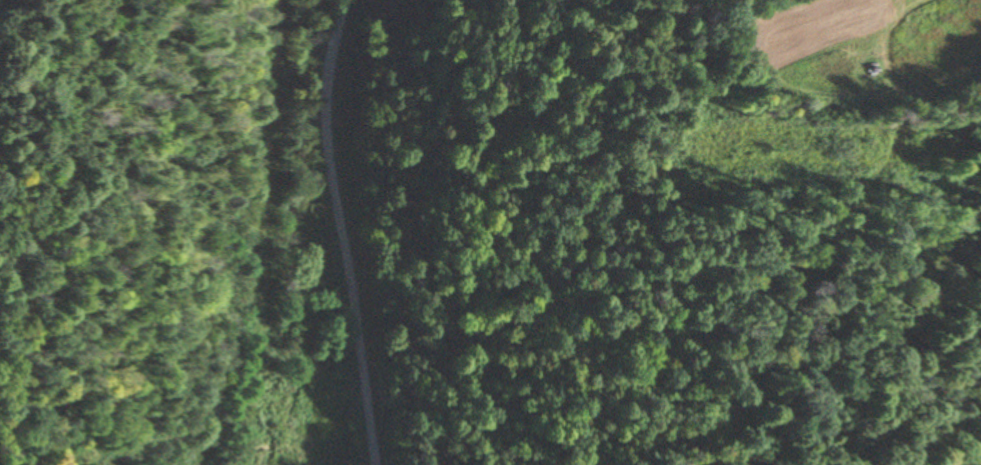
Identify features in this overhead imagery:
road: (341, 231)

